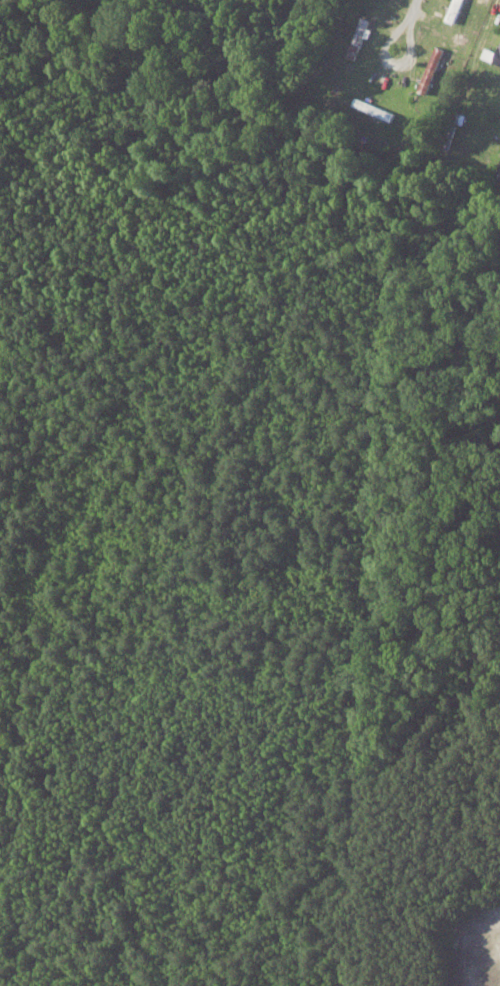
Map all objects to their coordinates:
road: (407, 24)
building: (432, 69)

